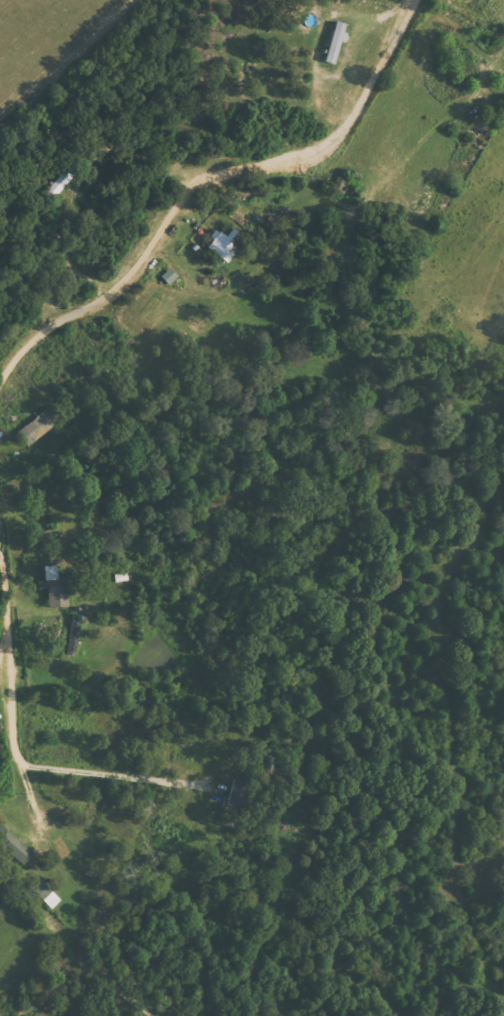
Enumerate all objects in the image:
building: (334, 43)
building: (59, 182)
building: (222, 244)
building: (35, 427)
road: (269, 510)
road: (165, 551)
building: (53, 589)
road: (331, 644)
building: (234, 804)
building: (13, 847)
building: (45, 895)
road: (61, 987)

